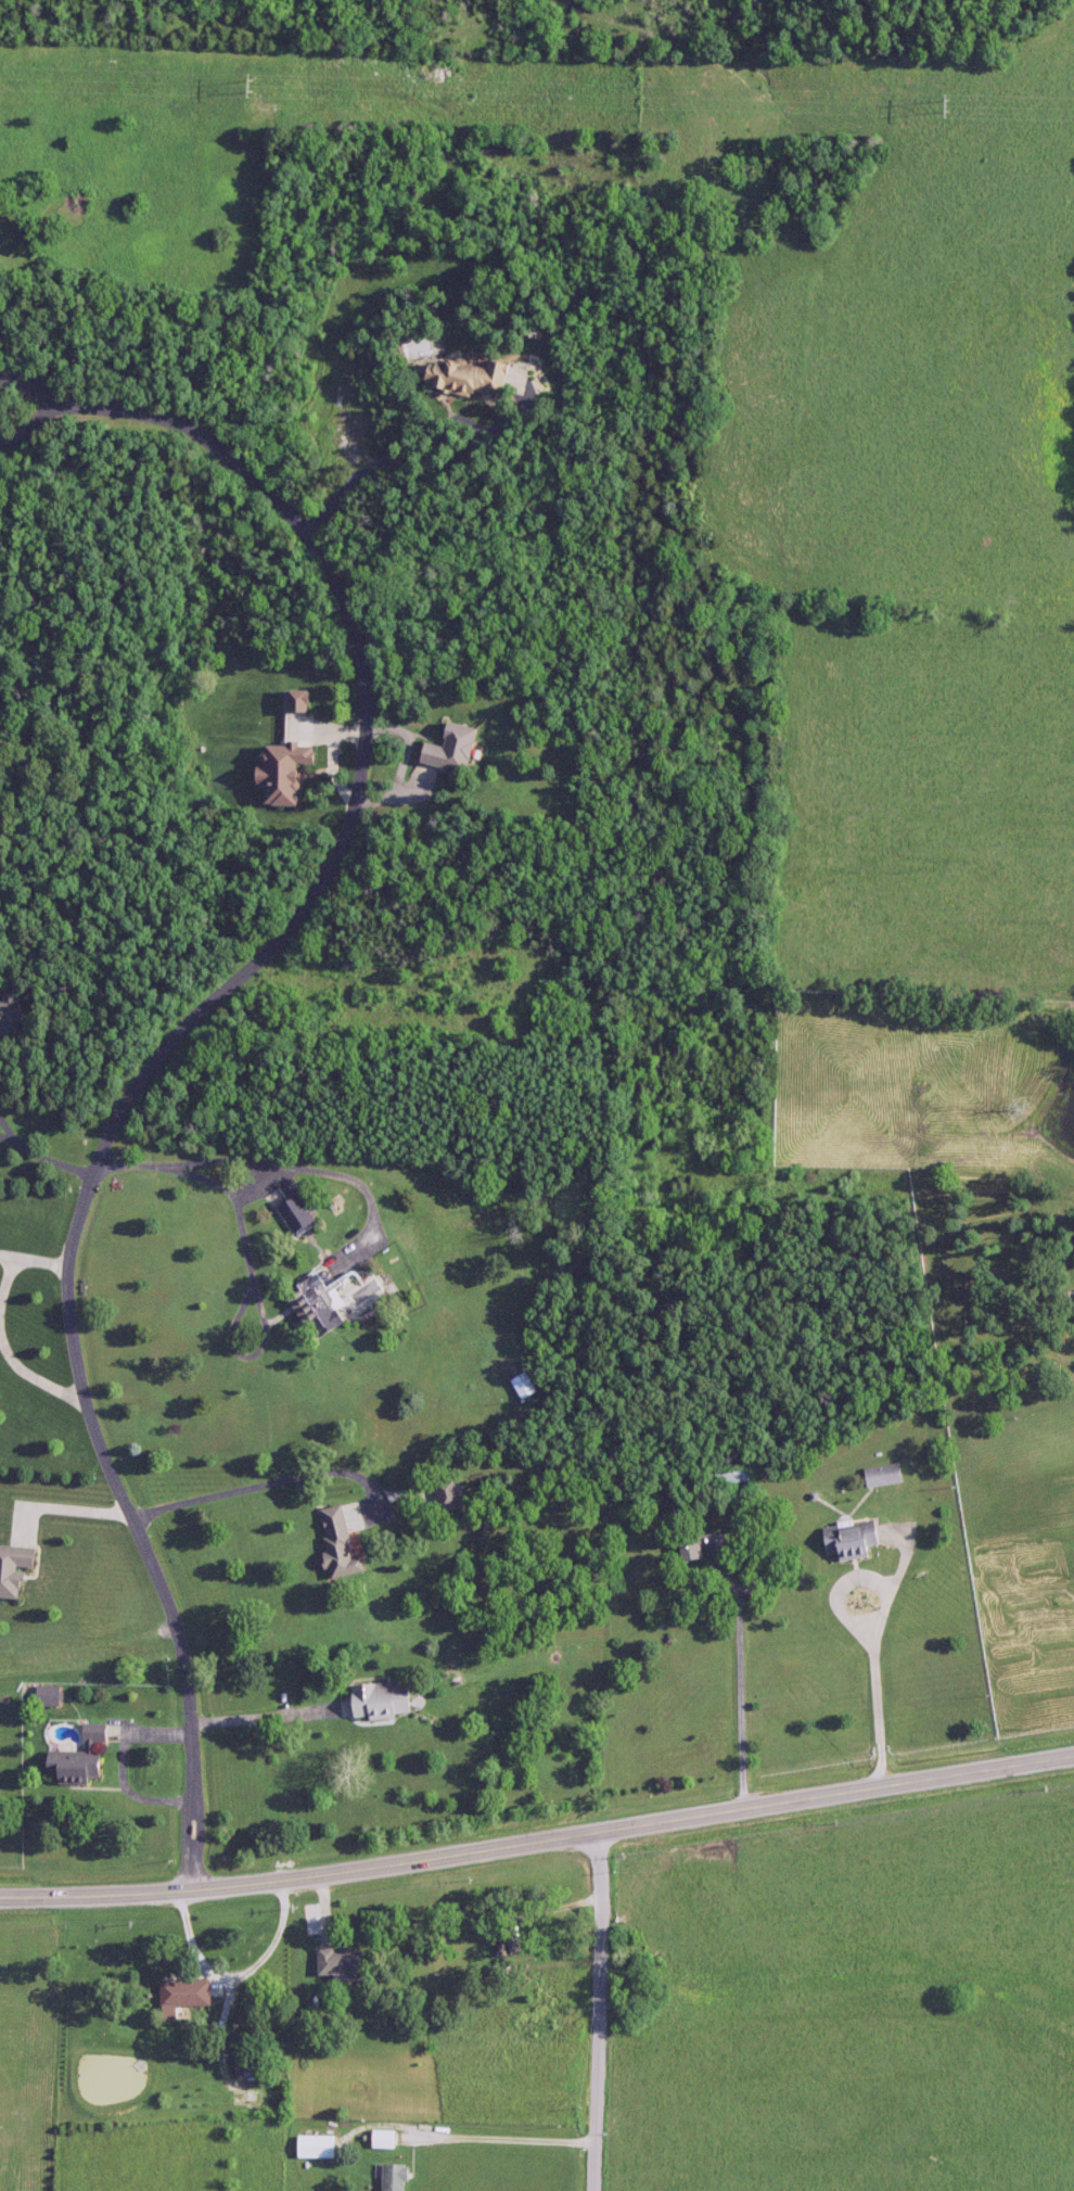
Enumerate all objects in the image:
building: (469, 375)
road: (50, 400)
road: (419, 468)
building: (456, 748)
building: (290, 770)
building: (18, 1014)
road: (175, 1043)
road: (7, 1135)
road: (41, 1150)
road: (247, 1152)
road: (217, 1182)
road: (373, 1195)
building: (302, 1214)
road: (35, 1261)
building: (321, 1309)
road: (241, 1312)
road: (7, 1350)
building: (530, 1385)
building: (737, 1473)
building: (878, 1475)
road: (264, 1483)
building: (453, 1498)
road: (64, 1502)
building: (343, 1540)
building: (843, 1540)
building: (713, 1545)
building: (18, 1570)
road: (875, 1647)
building: (53, 1696)
building: (389, 1699)
road: (272, 1714)
building: (87, 1758)
road: (123, 1761)
road: (538, 1837)
building: (519, 1945)
building: (346, 1961)
building: (189, 1993)
road: (602, 2009)
building: (246, 2065)
building: (384, 2139)
road: (511, 2139)
building: (318, 2147)
building: (396, 2178)

